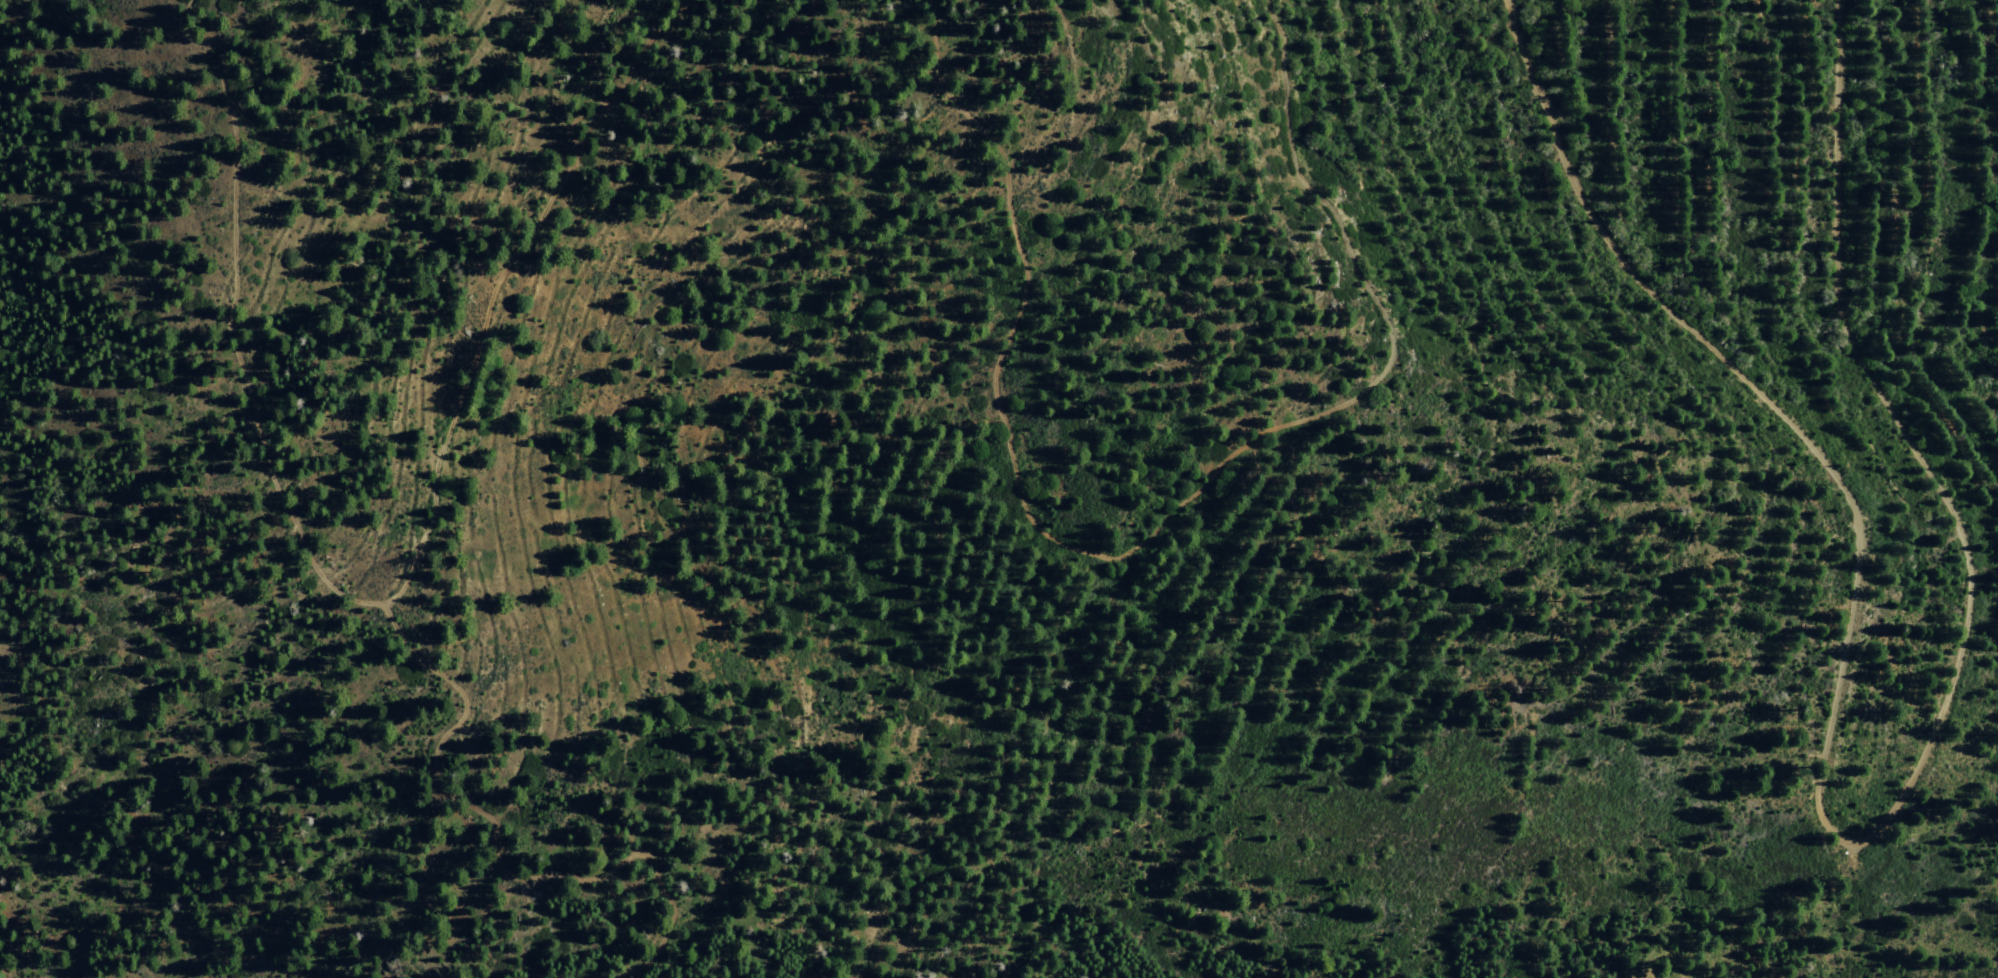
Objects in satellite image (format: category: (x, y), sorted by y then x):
road: (1825, 824)

